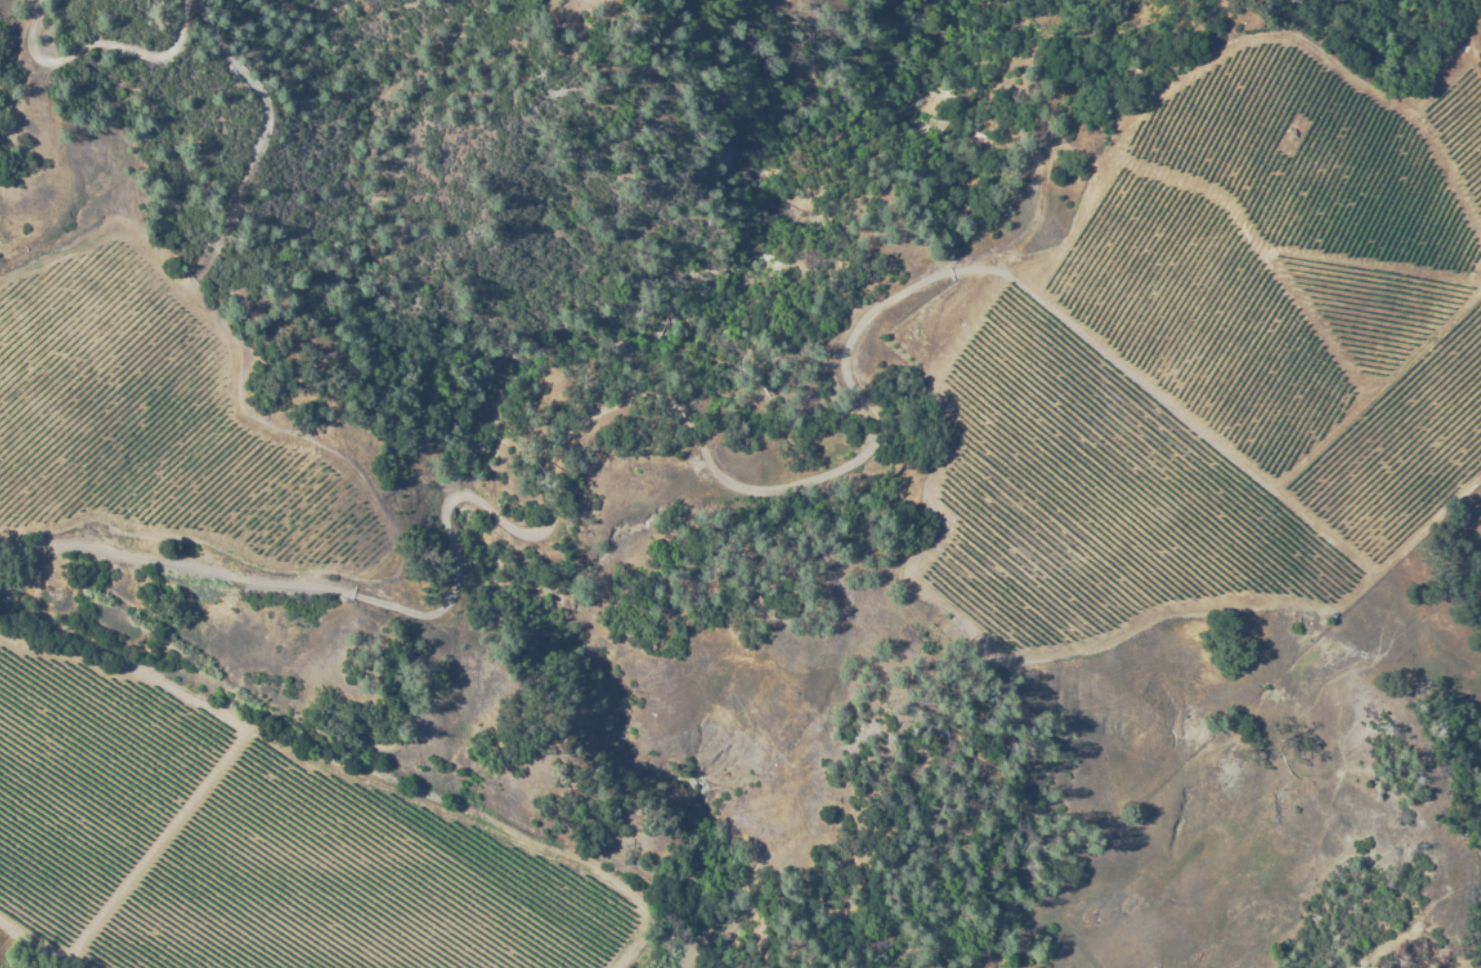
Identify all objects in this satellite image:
road: (146, 39)
road: (763, 476)

